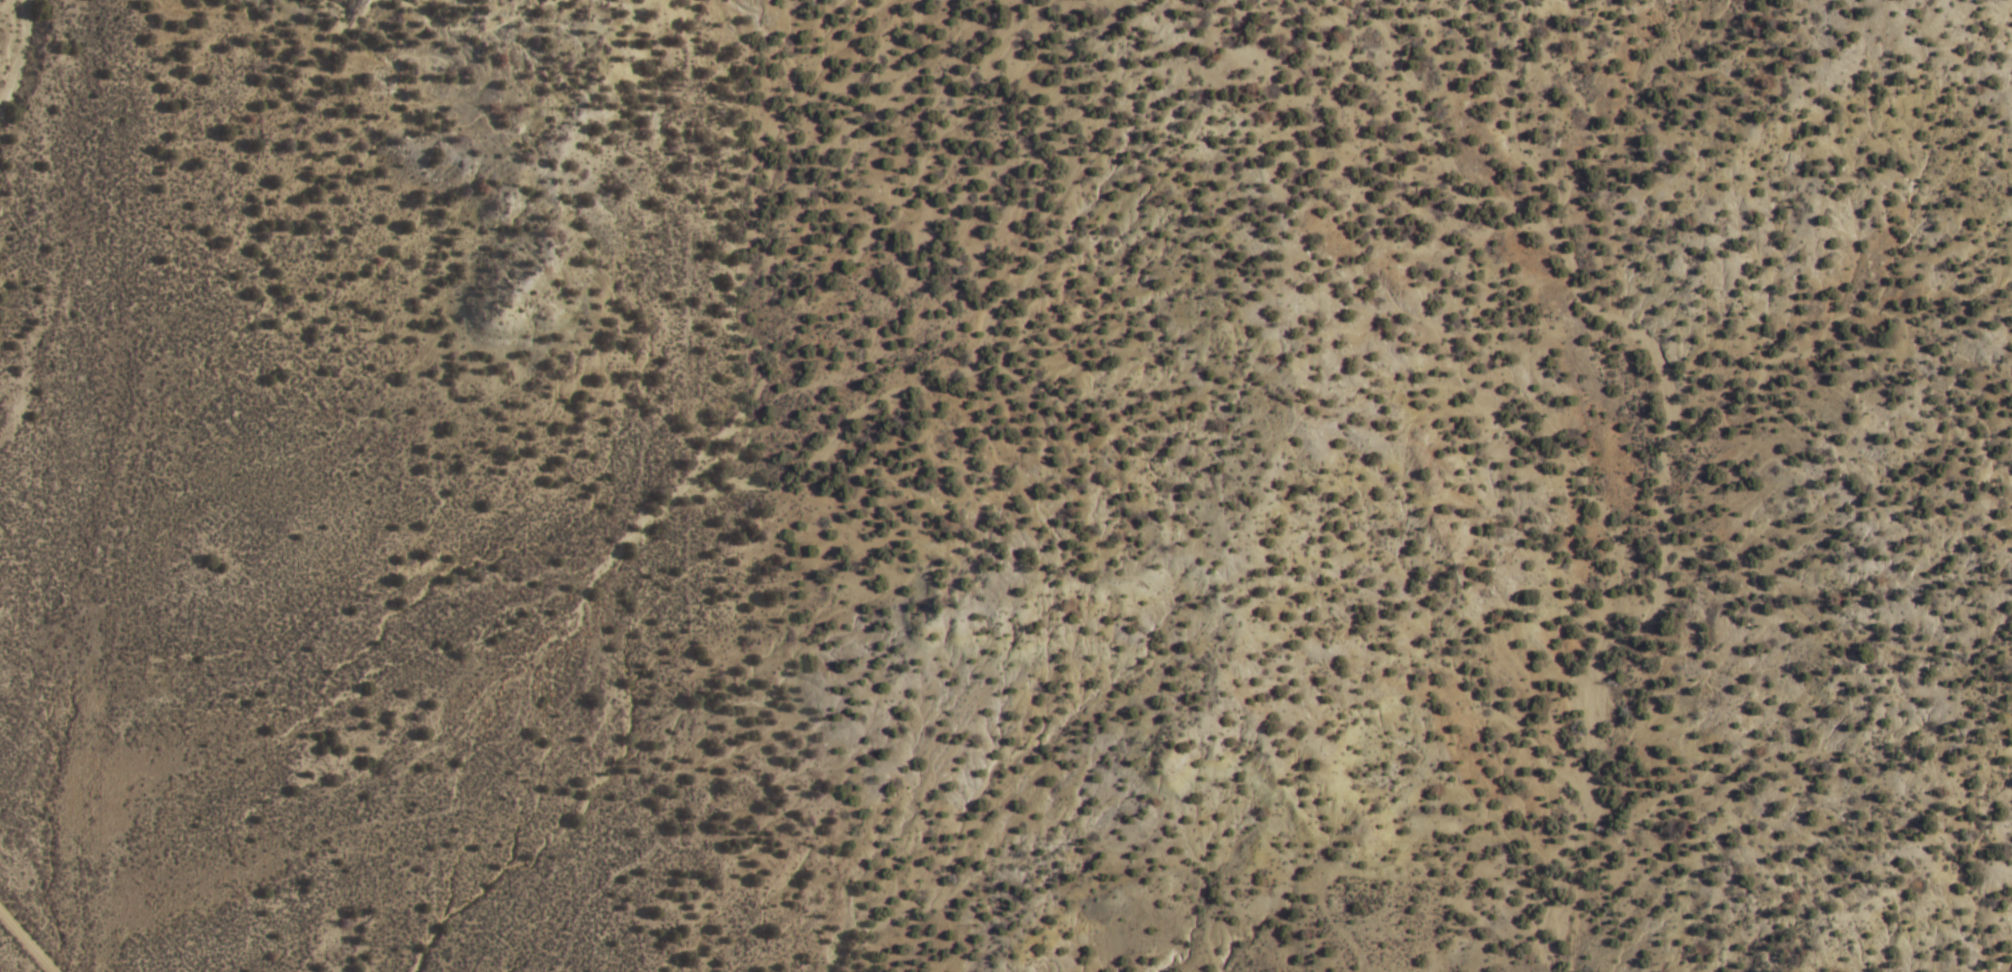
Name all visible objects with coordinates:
river: (22, 33)
road: (29, 938)

